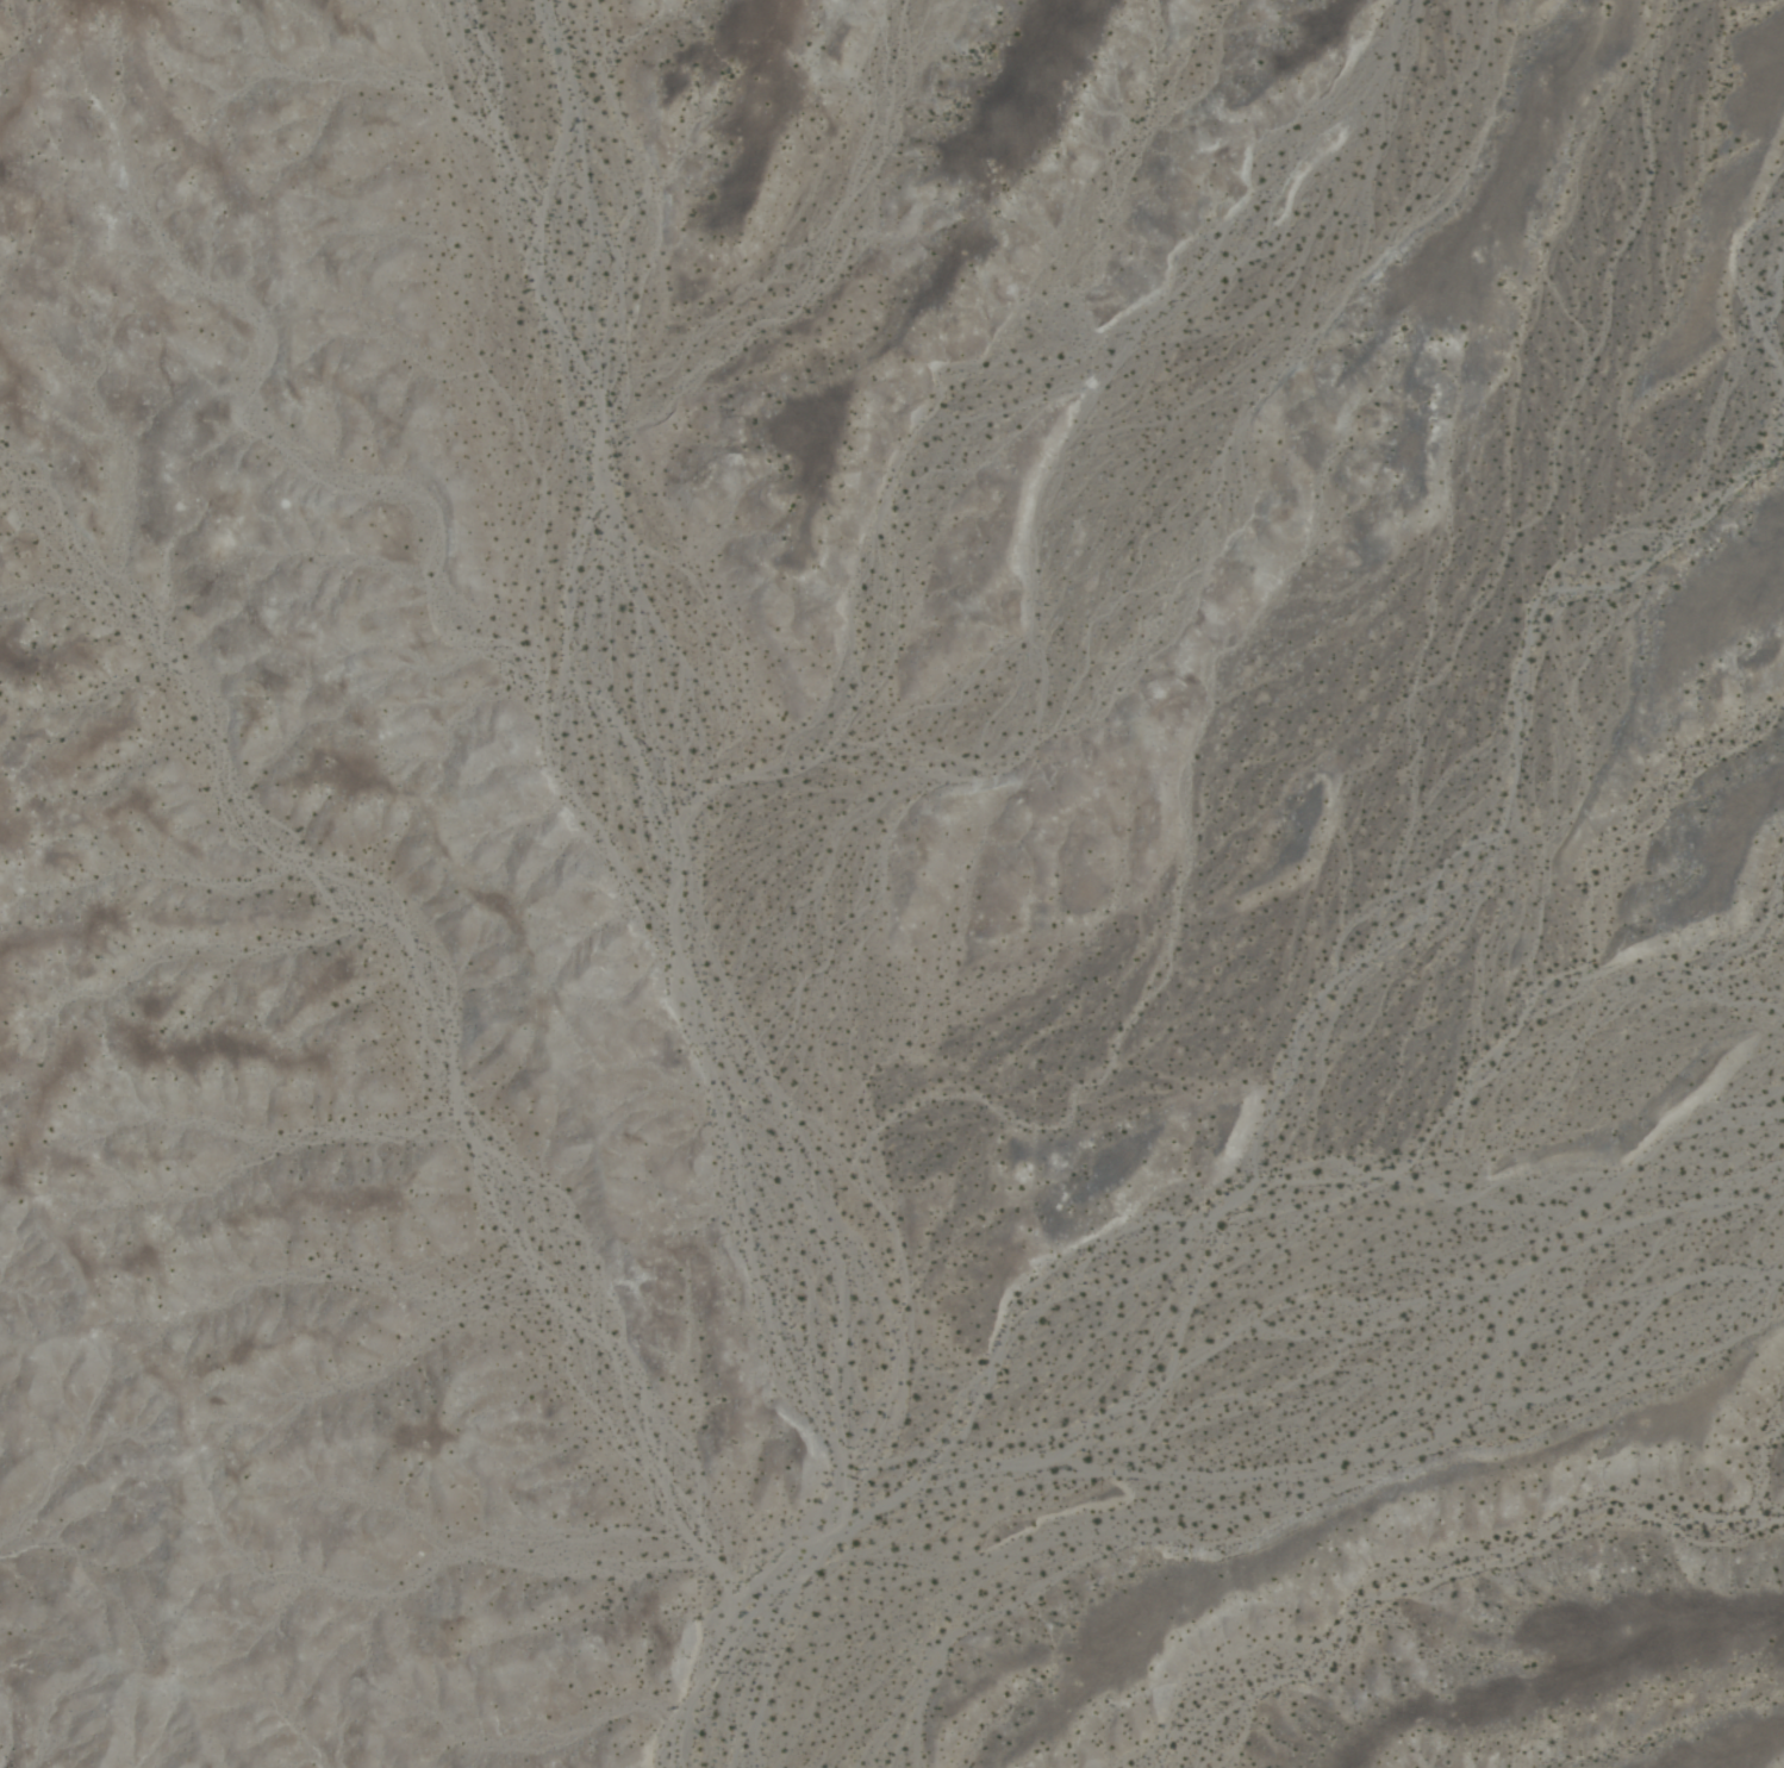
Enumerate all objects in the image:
road: (1196, 1266)

